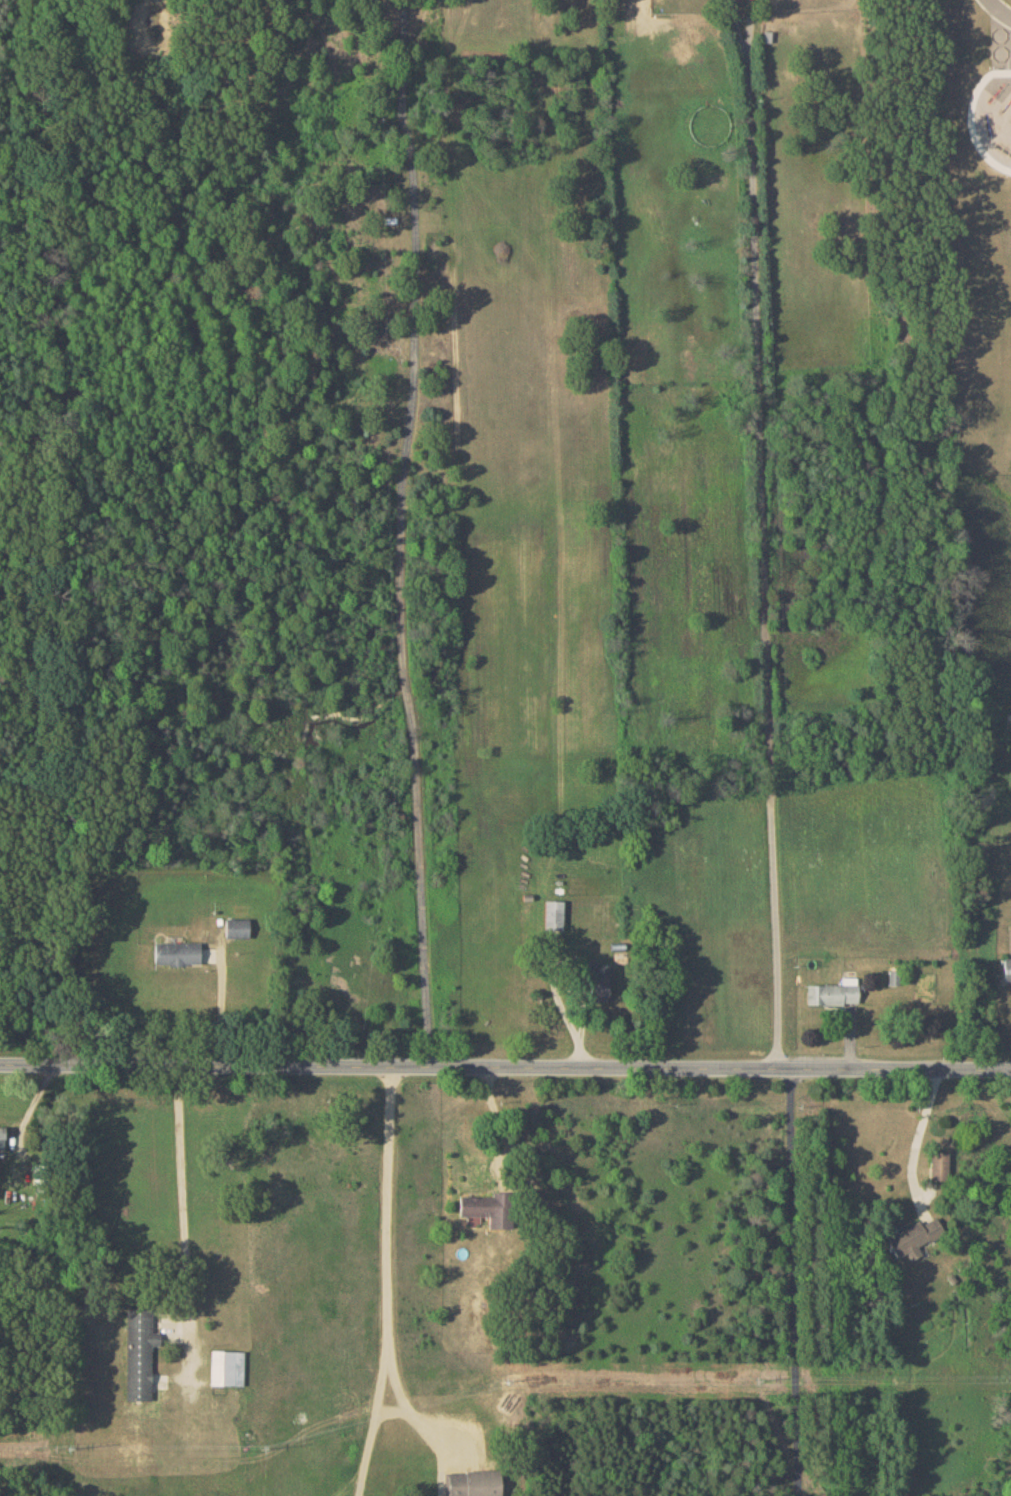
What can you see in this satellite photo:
road: (738, 30)
road: (751, 30)
road: (971, 117)
road: (400, 532)
road: (762, 564)
building: (553, 914)
building: (237, 927)
building: (177, 952)
building: (1007, 969)
building: (893, 976)
building: (598, 988)
building: (833, 992)
road: (222, 1001)
road: (505, 1066)
road: (498, 1121)
building: (2, 1132)
road: (918, 1136)
building: (938, 1164)
road: (183, 1199)
building: (484, 1209)
building: (914, 1237)
road: (385, 1282)
road: (797, 1282)
building: (139, 1353)
building: (227, 1367)
building: (474, 1483)

